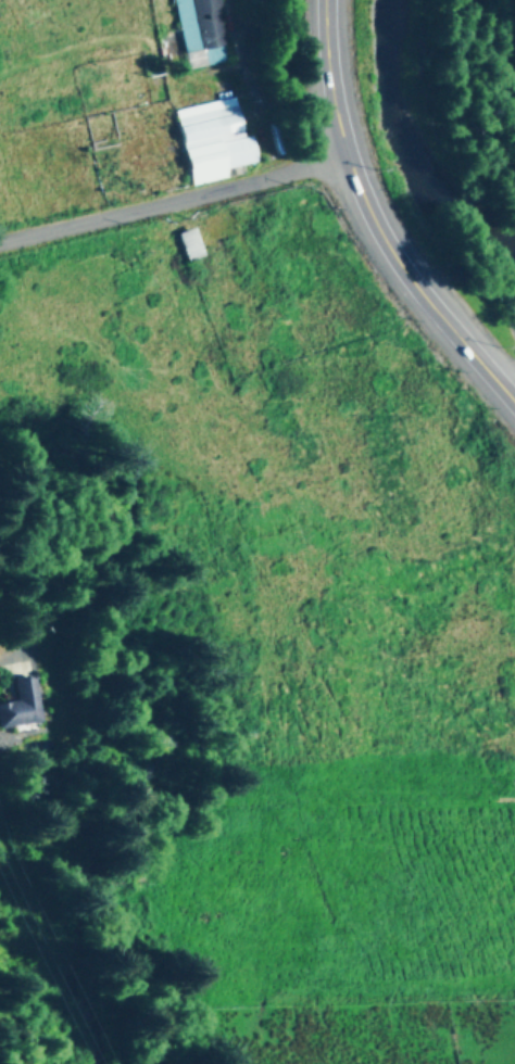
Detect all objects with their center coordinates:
building: (192, 17)
road: (329, 78)
building: (213, 136)
river: (415, 138)
road: (174, 198)
road: (417, 287)
quarry: (502, 311)
road: (11, 651)
building: (17, 701)
road: (28, 885)

